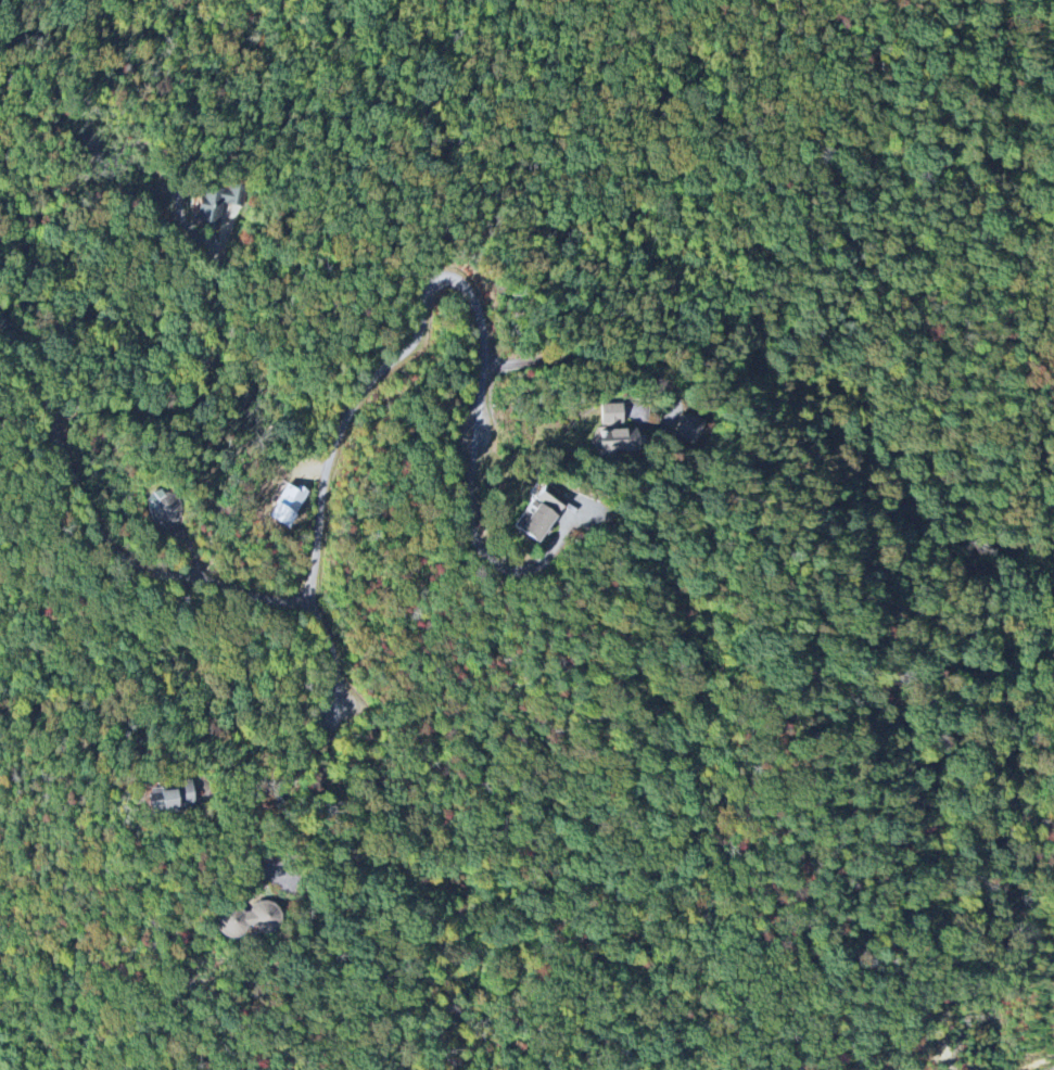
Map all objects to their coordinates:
building: (214, 203)
road: (406, 354)
road: (190, 398)
building: (686, 428)
building: (615, 433)
building: (287, 506)
building: (163, 507)
building: (541, 515)
road: (486, 555)
road: (136, 568)
road: (287, 777)
road: (315, 789)
building: (169, 798)
quarry: (1051, 1068)

